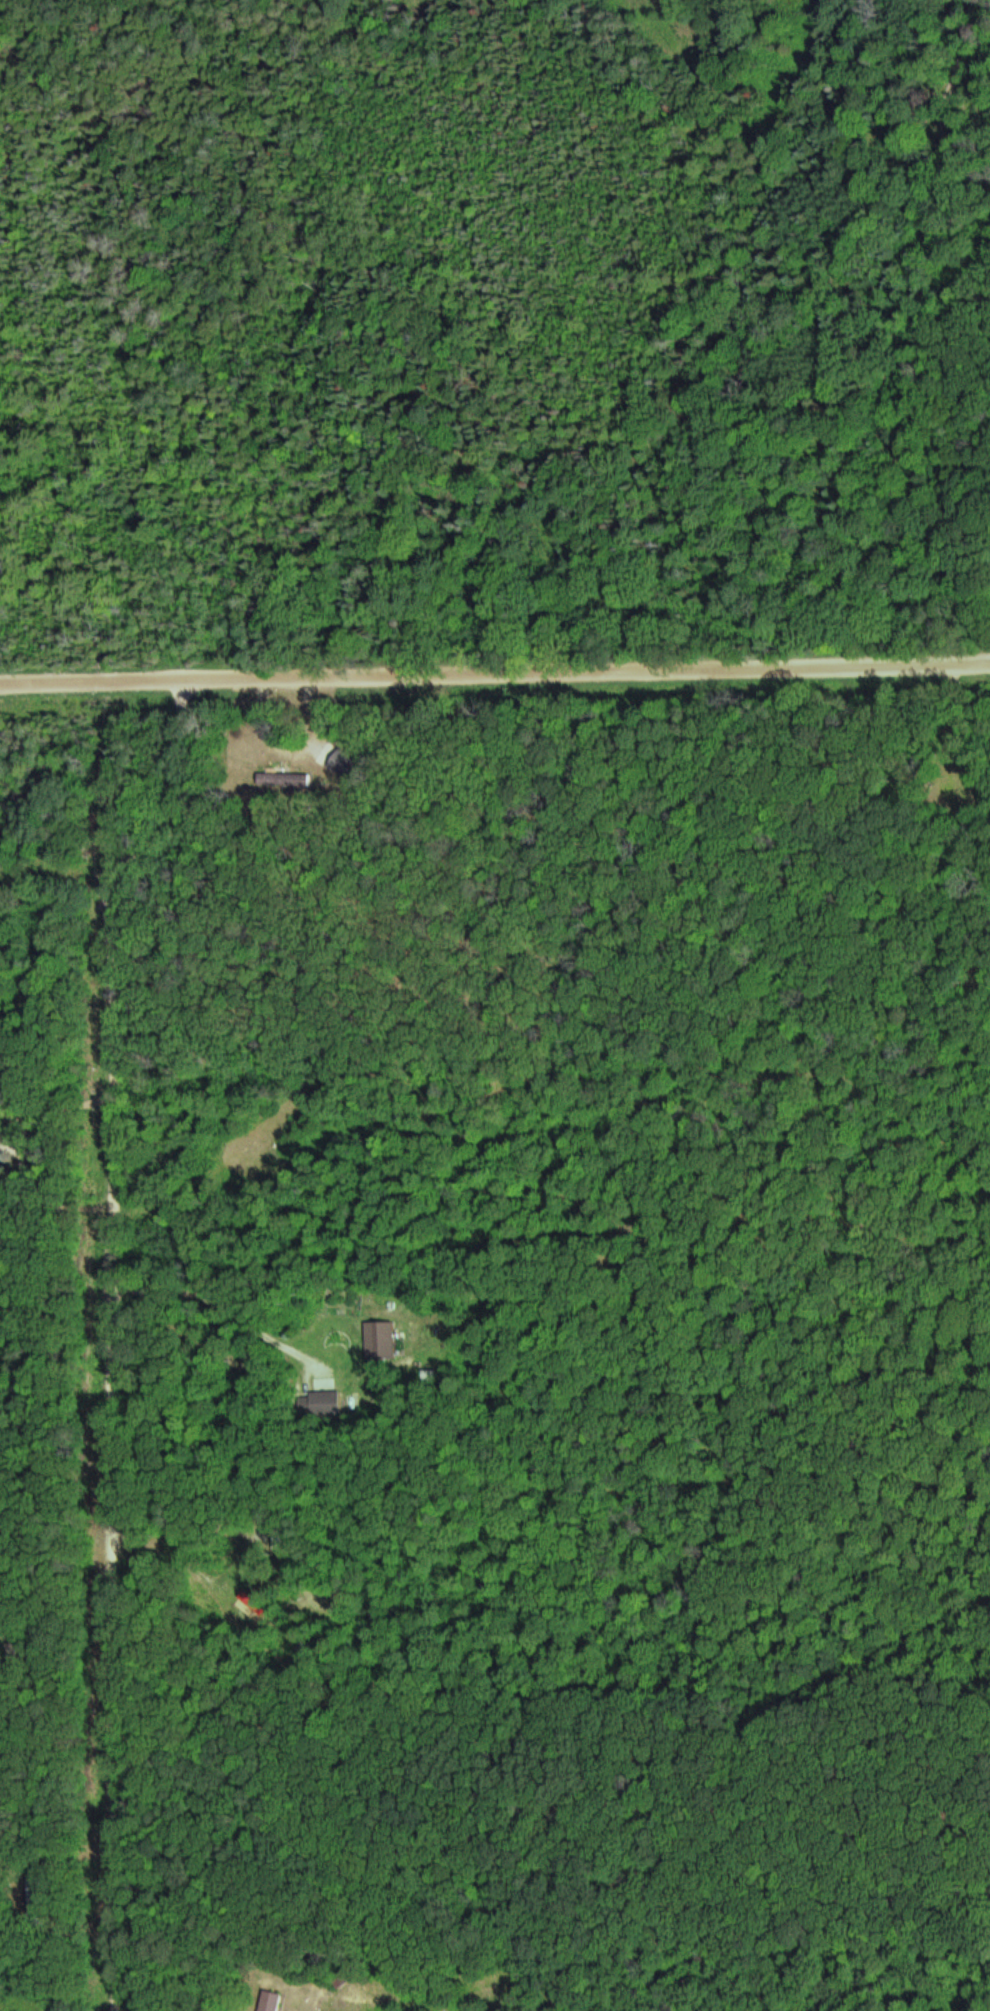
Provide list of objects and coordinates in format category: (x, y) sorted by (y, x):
road: (495, 672)
road: (118, 1324)
building: (389, 1339)
building: (305, 1406)
road: (577, 1815)
building: (272, 2001)

